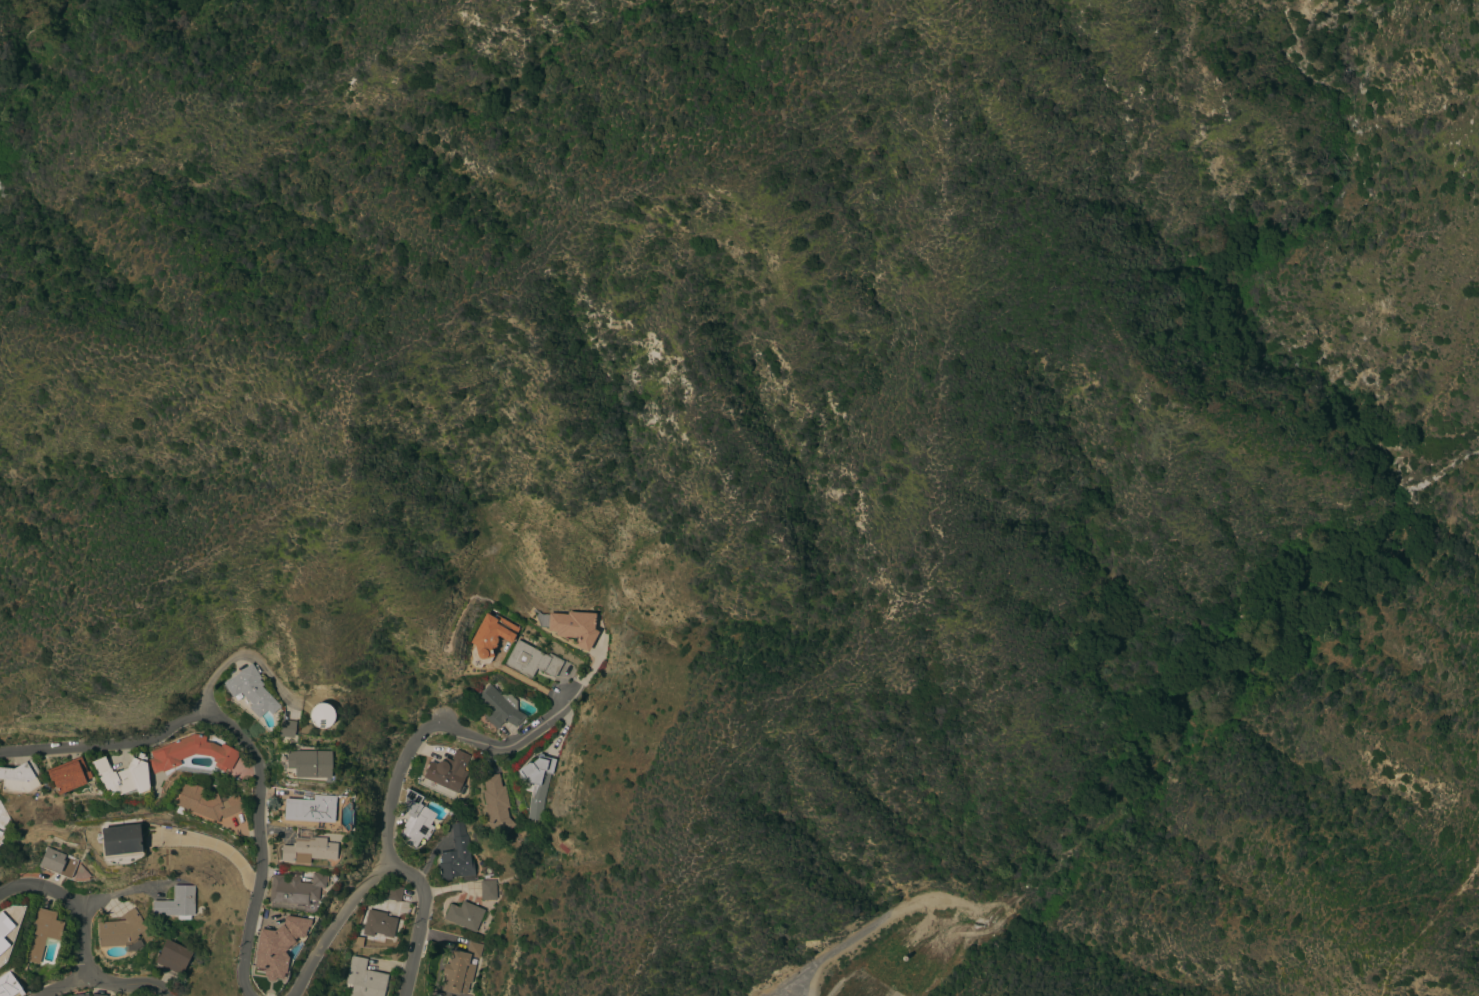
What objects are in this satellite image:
building: (571, 626)
building: (490, 638)
road: (238, 656)
building: (531, 660)
building: (251, 690)
building: (499, 707)
building: (322, 716)
building: (287, 728)
road: (249, 739)
building: (191, 753)
building: (308, 764)
building: (447, 772)
building: (69, 775)
building: (122, 777)
building: (20, 778)
road: (400, 782)
building: (537, 784)
building: (207, 803)
building: (496, 805)
building: (310, 809)
building: (3, 818)
building: (416, 819)
building: (121, 841)
road: (213, 846)
building: (309, 851)
building: (456, 856)
building: (57, 863)
building: (296, 889)
building: (488, 890)
road: (120, 893)
building: (394, 893)
building: (176, 903)
road: (73, 904)
building: (464, 916)
building: (375, 923)
road: (335, 925)
building: (3, 930)
building: (121, 930)
building: (43, 933)
building: (278, 946)
road: (829, 956)
building: (172, 958)
building: (460, 969)
building: (364, 979)
road: (128, 985)
building: (9, 986)
road: (68, 986)
building: (81, 994)
building: (97, 994)

